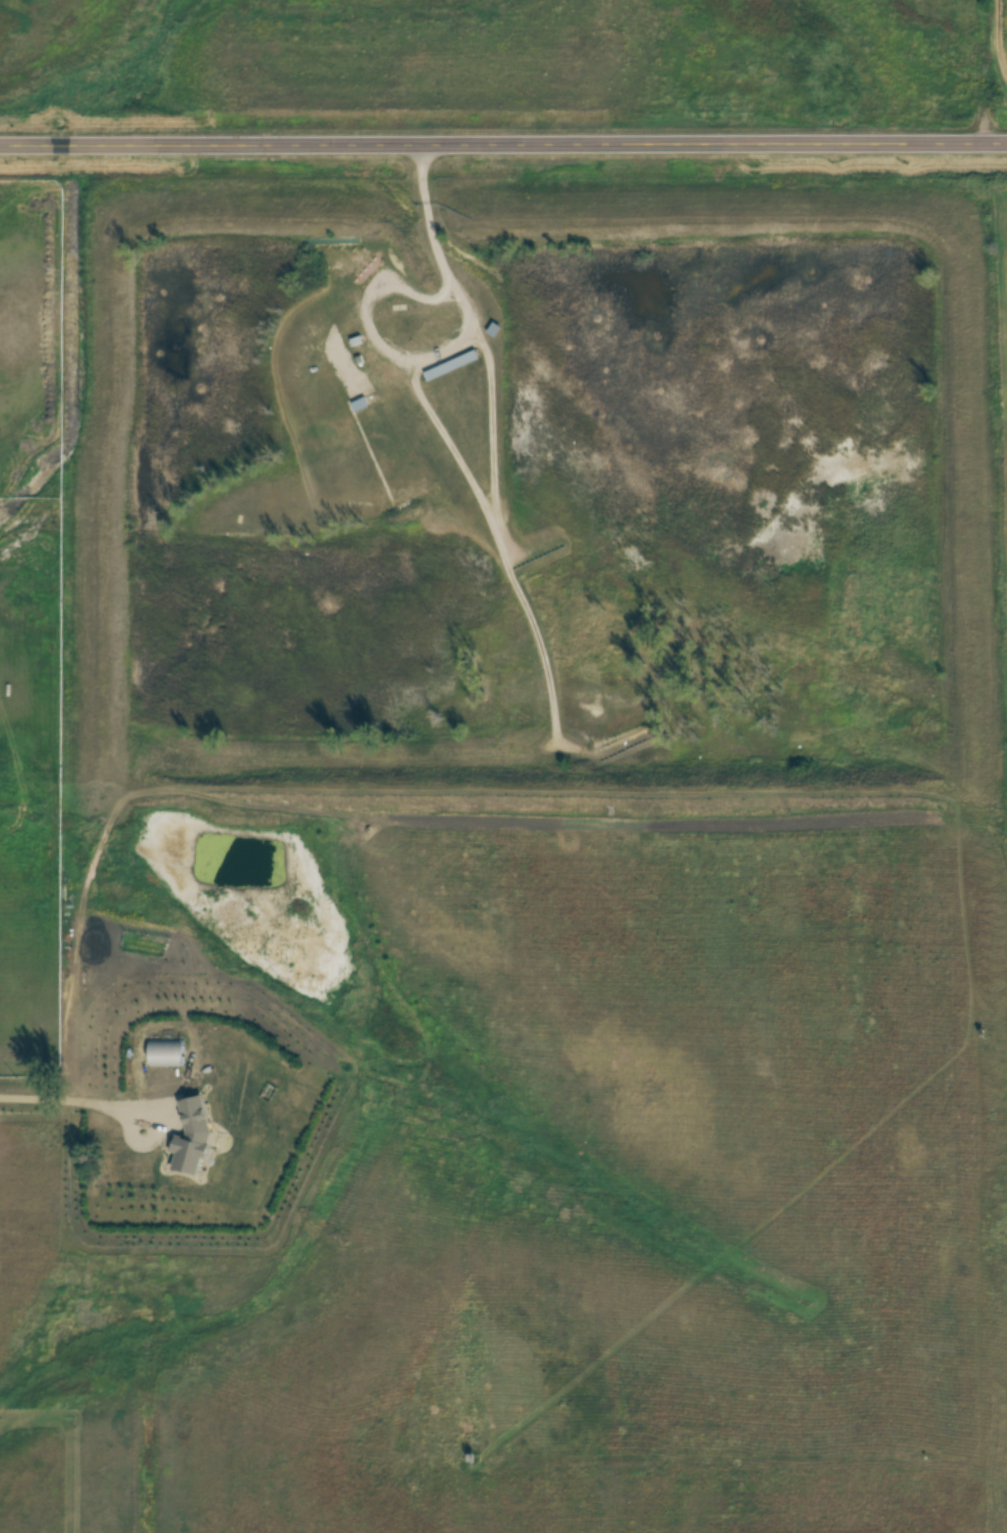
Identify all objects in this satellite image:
road: (503, 143)
road: (433, 245)
building: (167, 1053)
road: (83, 1096)
building: (195, 1124)

